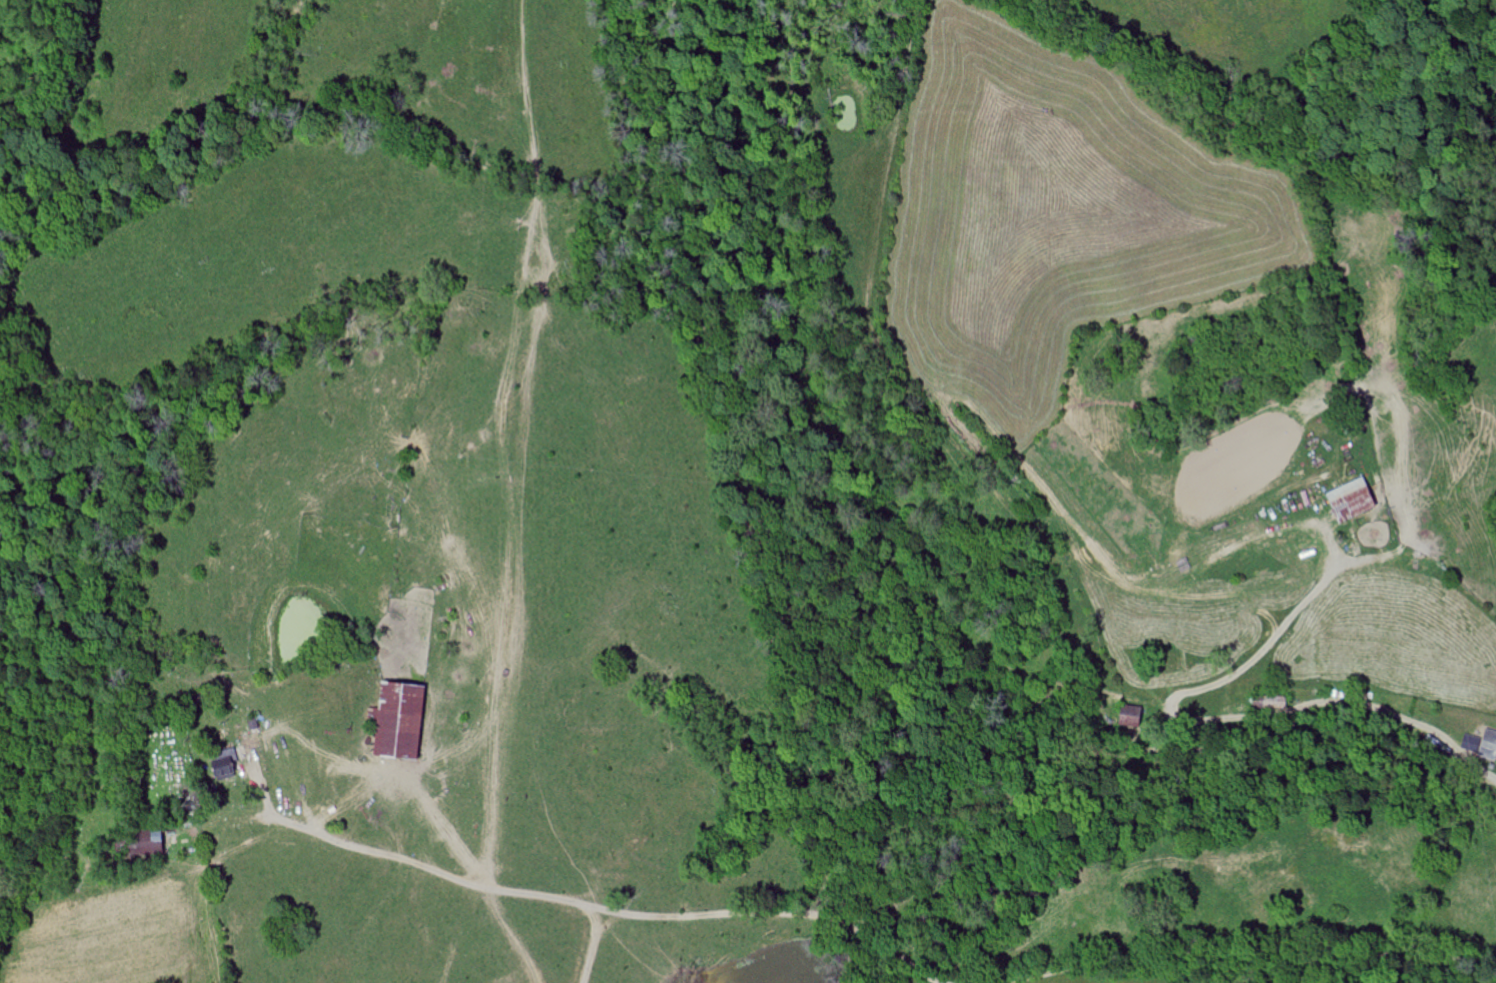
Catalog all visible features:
building: (1355, 500)
road: (1282, 629)
building: (1135, 718)
building: (403, 721)
building: (1482, 744)
building: (226, 769)
road: (658, 916)
road: (1235, 950)

